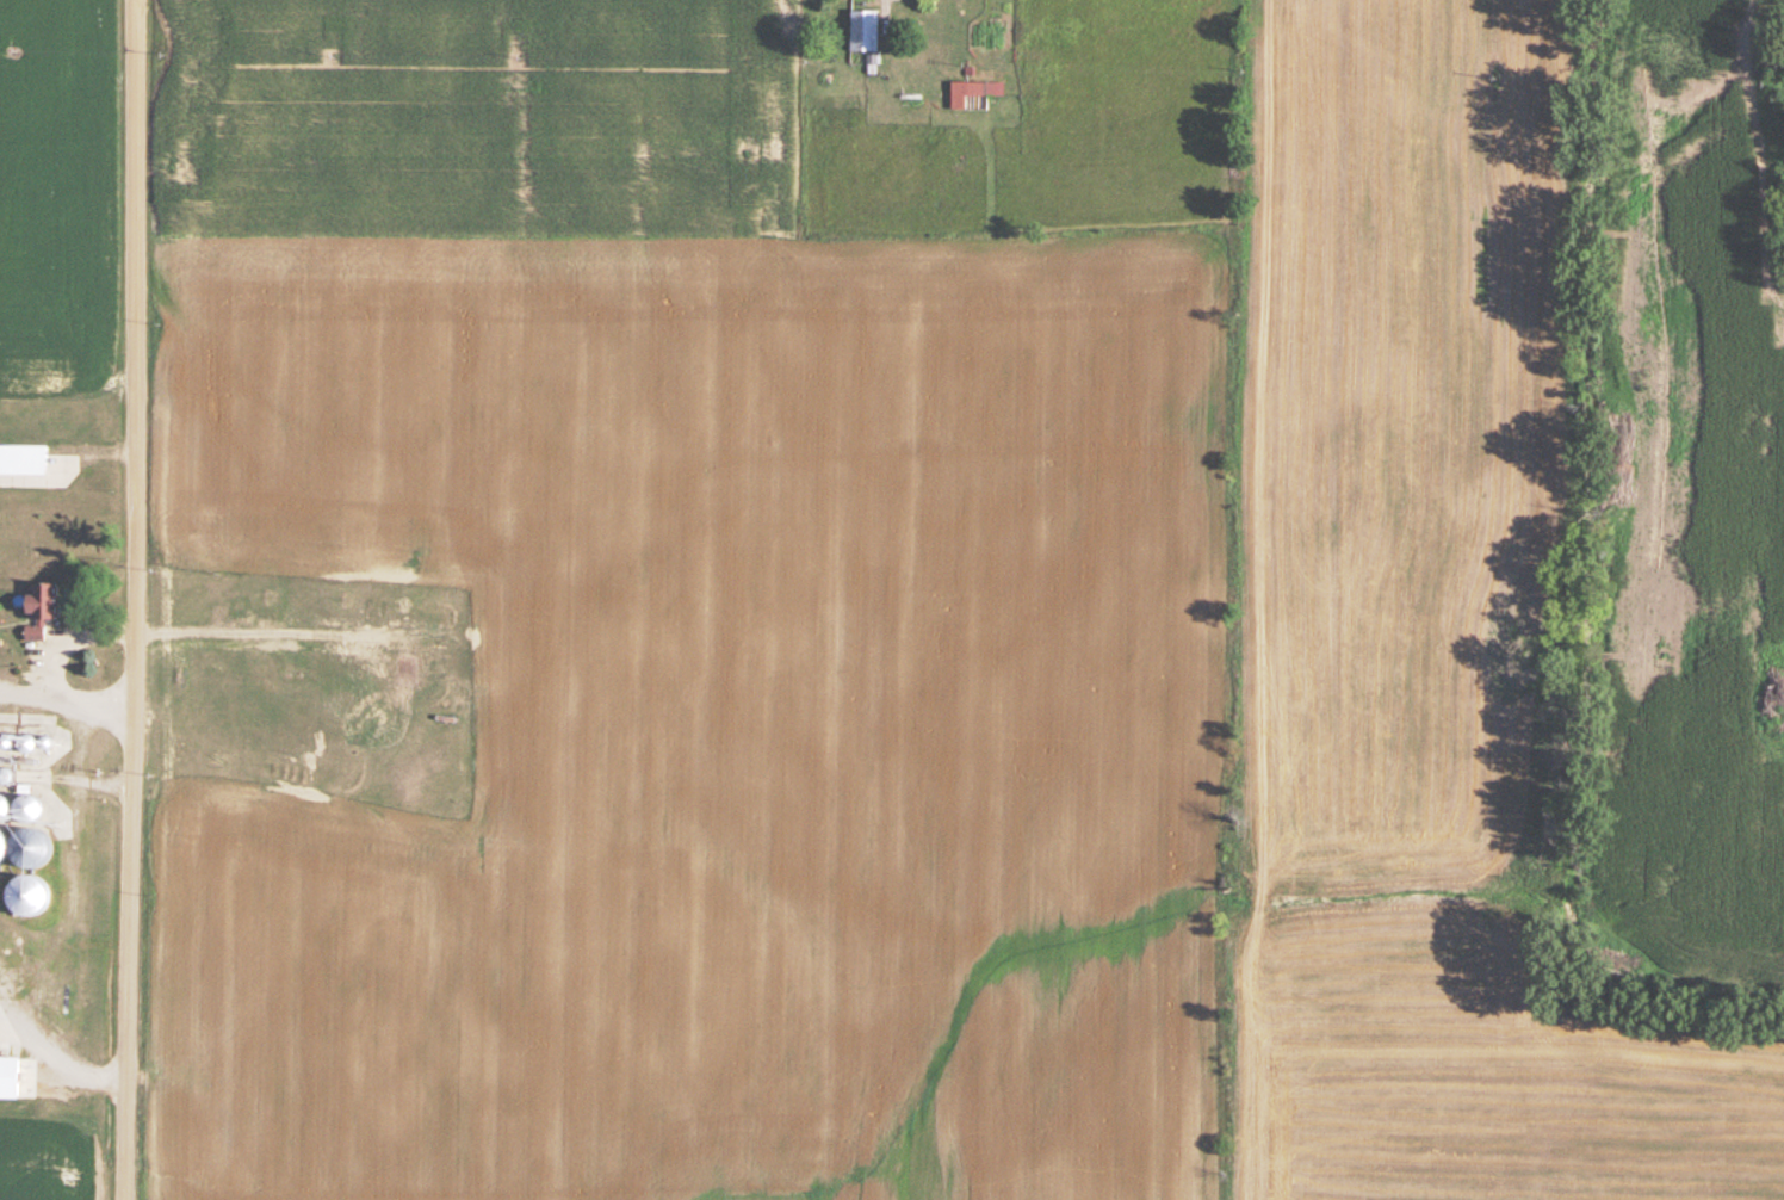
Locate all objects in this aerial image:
building: (863, 32)
building: (973, 93)
building: (23, 462)
road: (126, 600)
building: (39, 610)
road: (62, 683)
road: (79, 754)
building: (1, 808)
building: (26, 808)
building: (0, 848)
building: (27, 850)
building: (26, 898)
road: (55, 1046)
building: (8, 1080)

